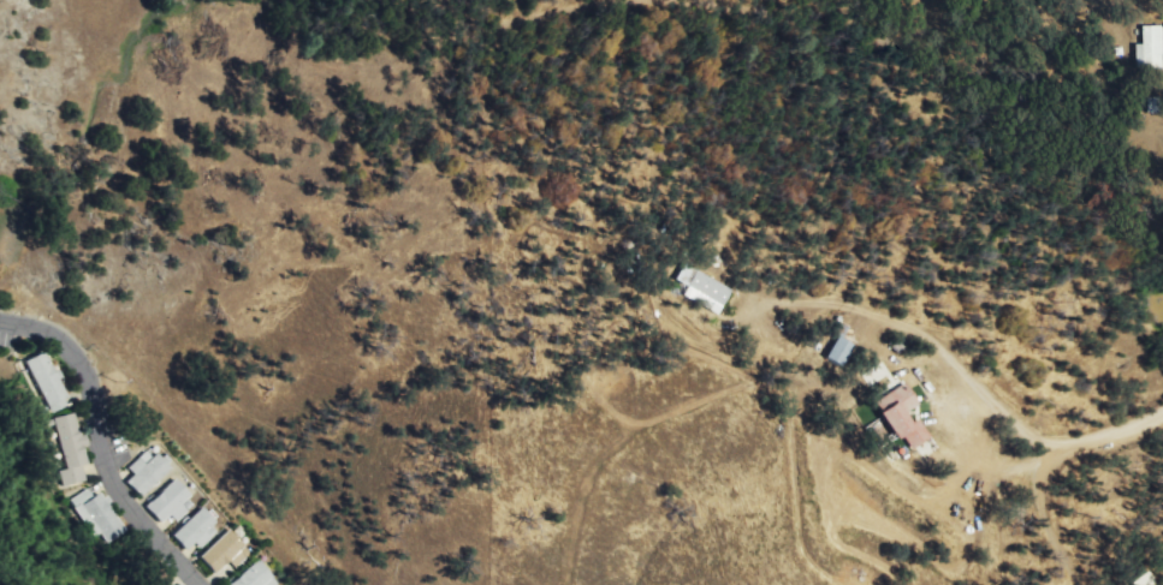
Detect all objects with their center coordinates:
building: (1151, 49)
building: (702, 283)
road: (924, 332)
building: (839, 351)
building: (49, 382)
building: (902, 414)
road: (1114, 436)
road: (107, 444)
building: (73, 449)
building: (149, 472)
building: (171, 503)
building: (100, 517)
building: (197, 531)
building: (226, 553)
building: (256, 577)
building: (1145, 580)

